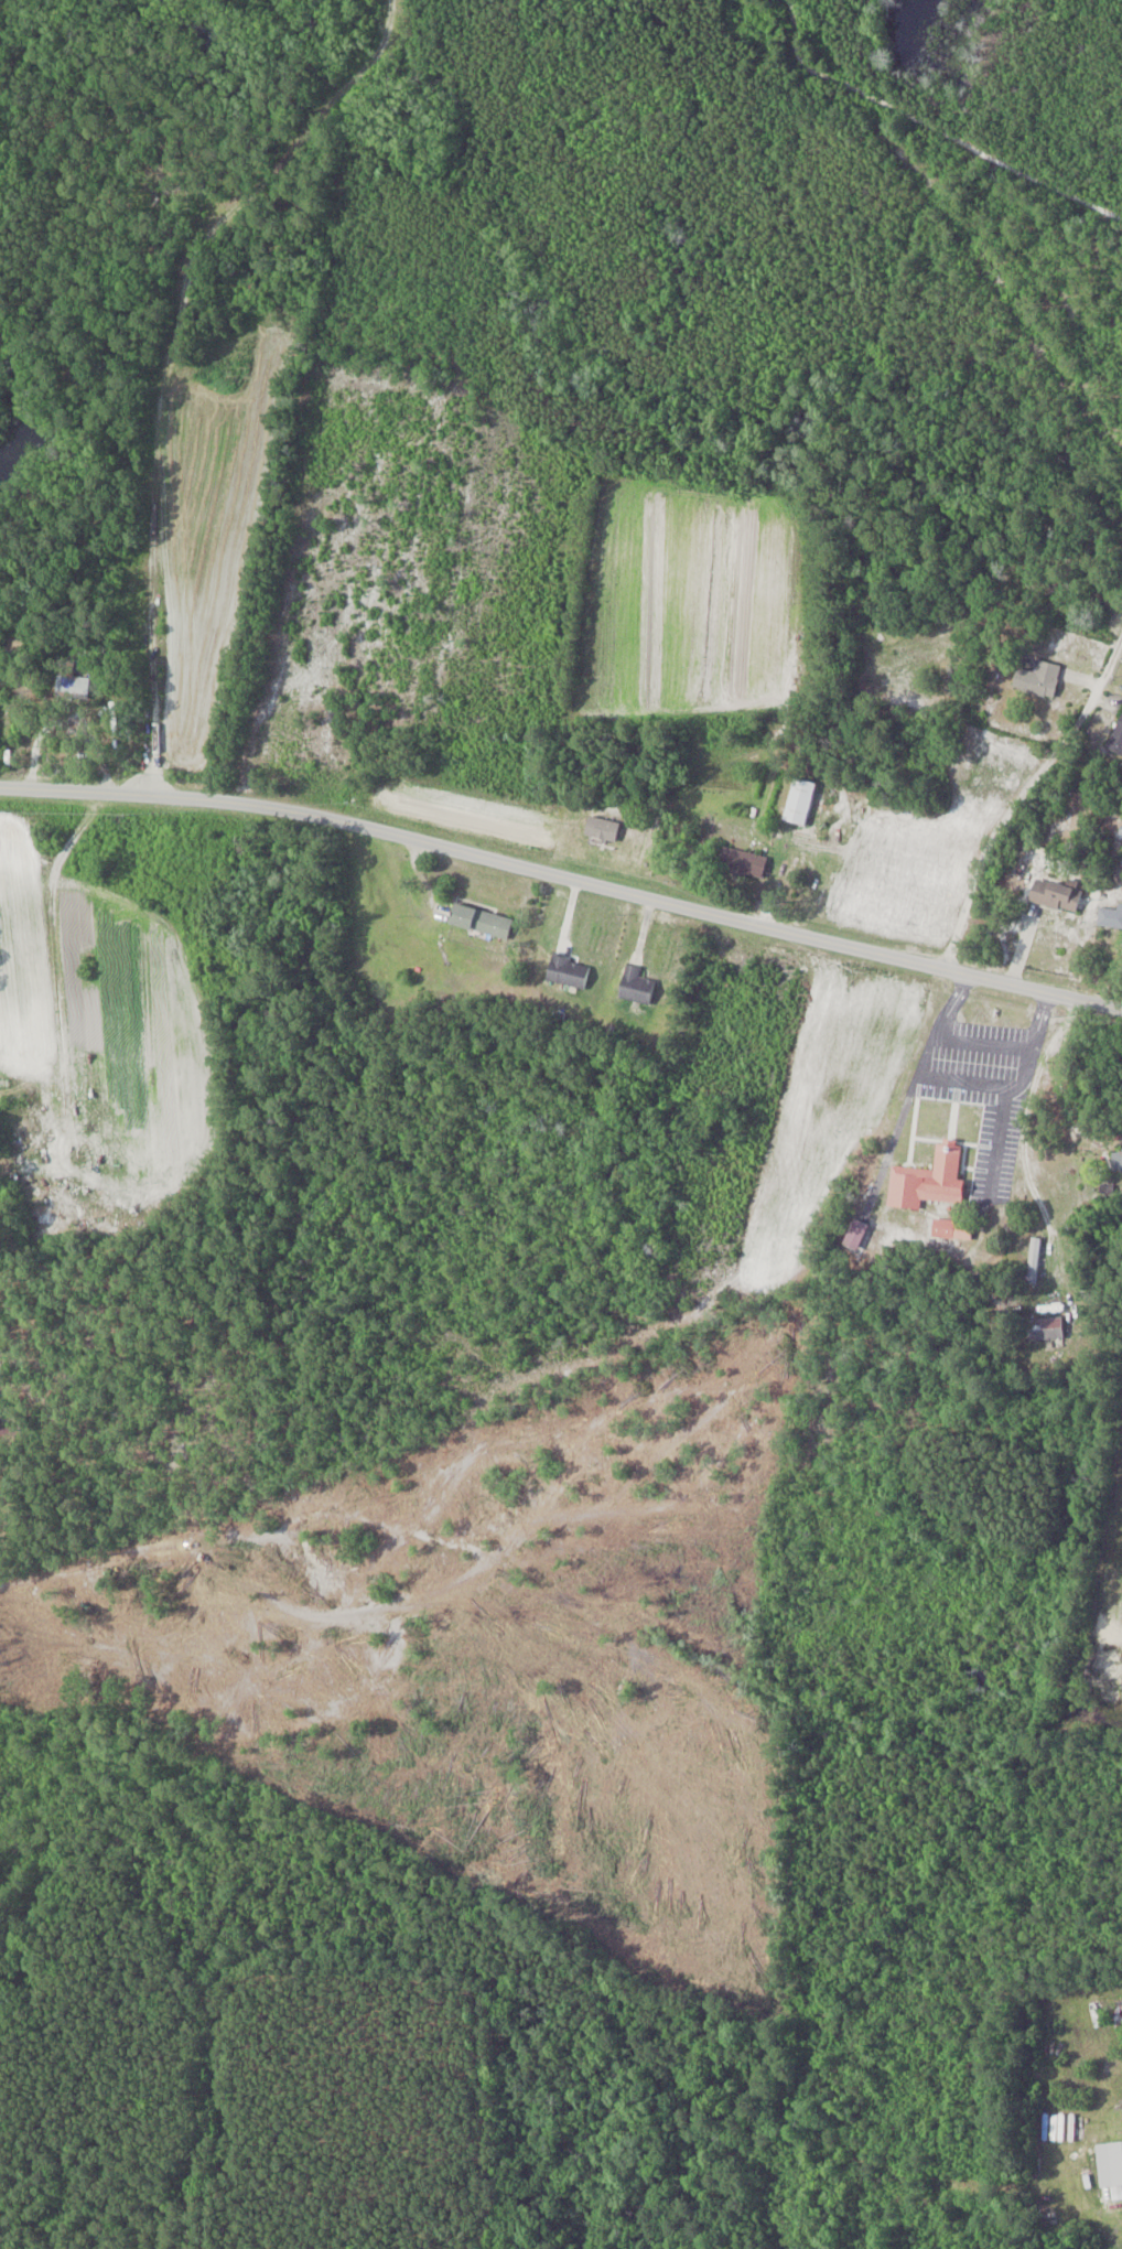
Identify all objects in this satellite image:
building: (249, 288)
building: (1039, 678)
building: (72, 681)
building: (1116, 738)
building: (801, 800)
road: (1036, 805)
building: (1121, 830)
building: (744, 862)
road: (564, 874)
building: (1057, 894)
building: (1111, 916)
building: (482, 921)
building: (569, 971)
building: (637, 986)
road: (1014, 1142)
building: (1116, 1159)
building: (928, 1180)
building: (945, 1228)
building: (856, 1235)
building: (1034, 1260)
building: (1046, 1327)
building: (1119, 2013)
building: (1110, 2163)

